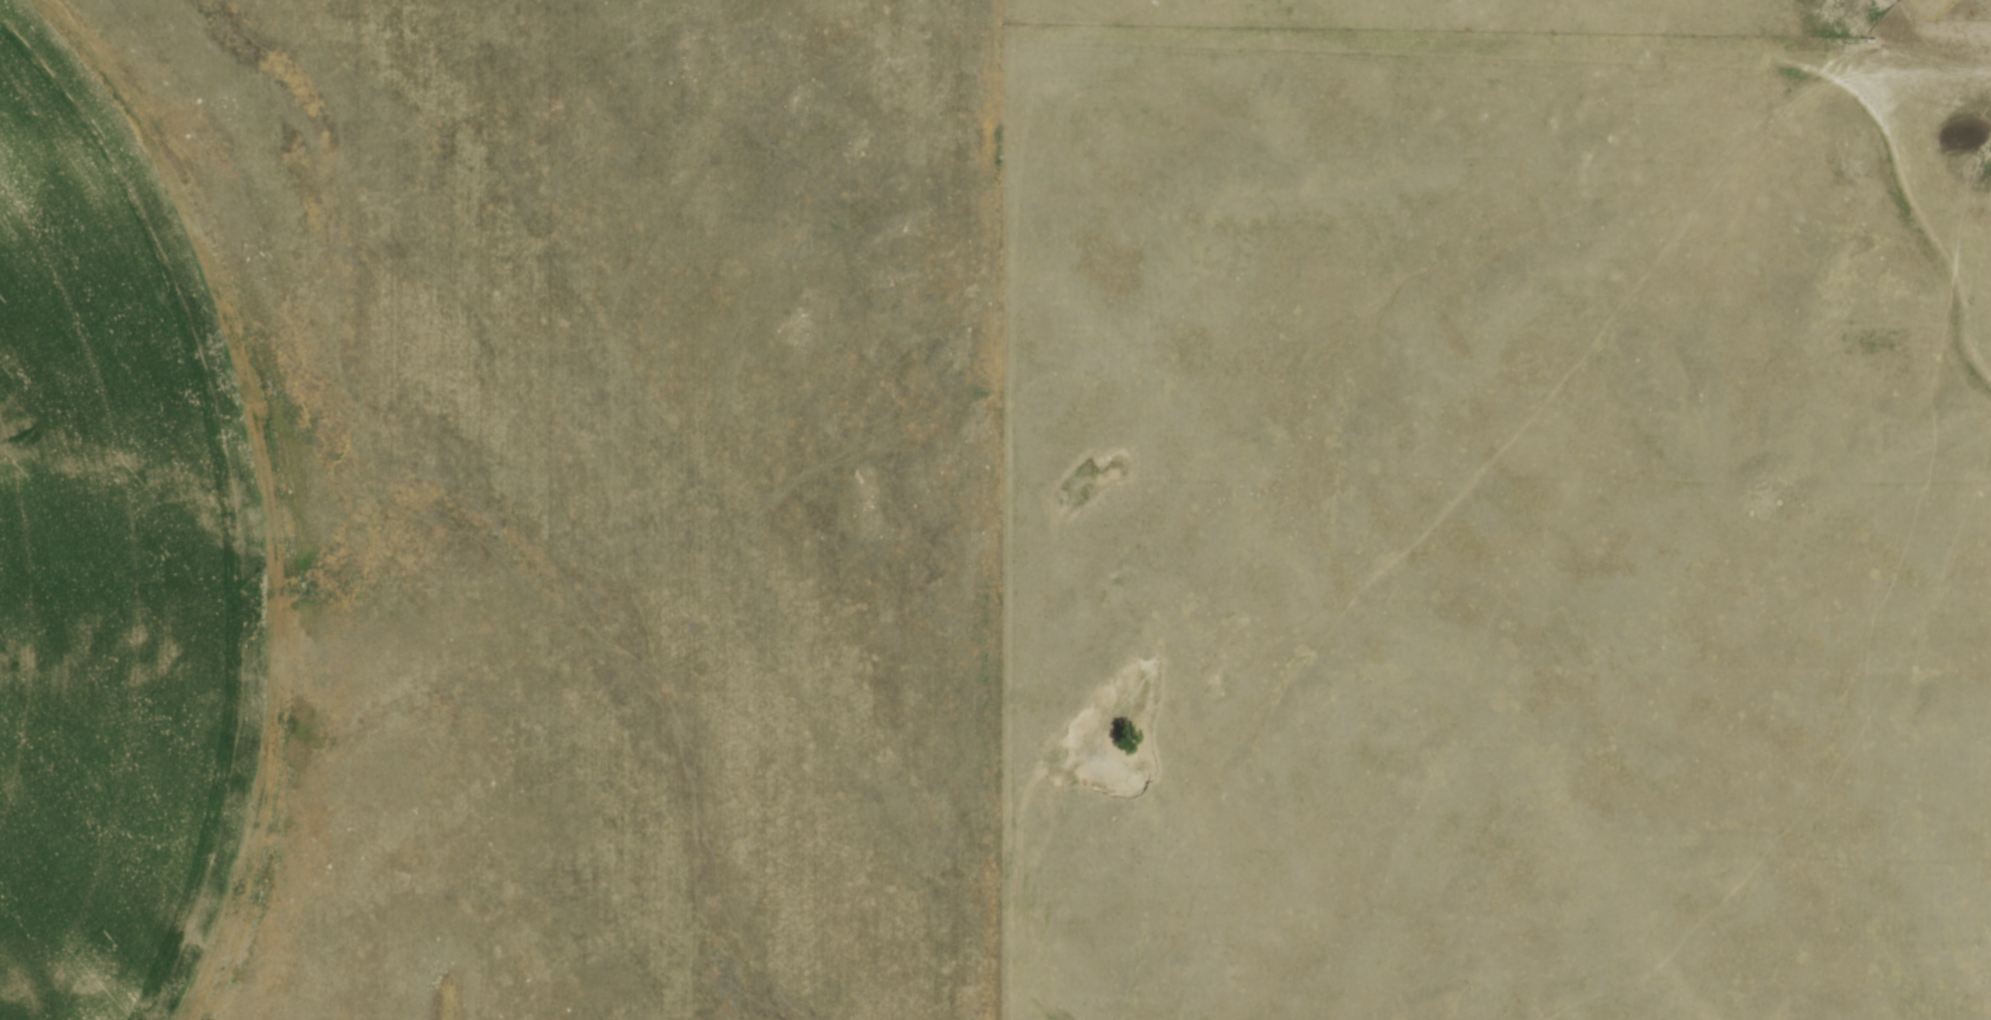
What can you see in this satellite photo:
crop: (124, 556)

